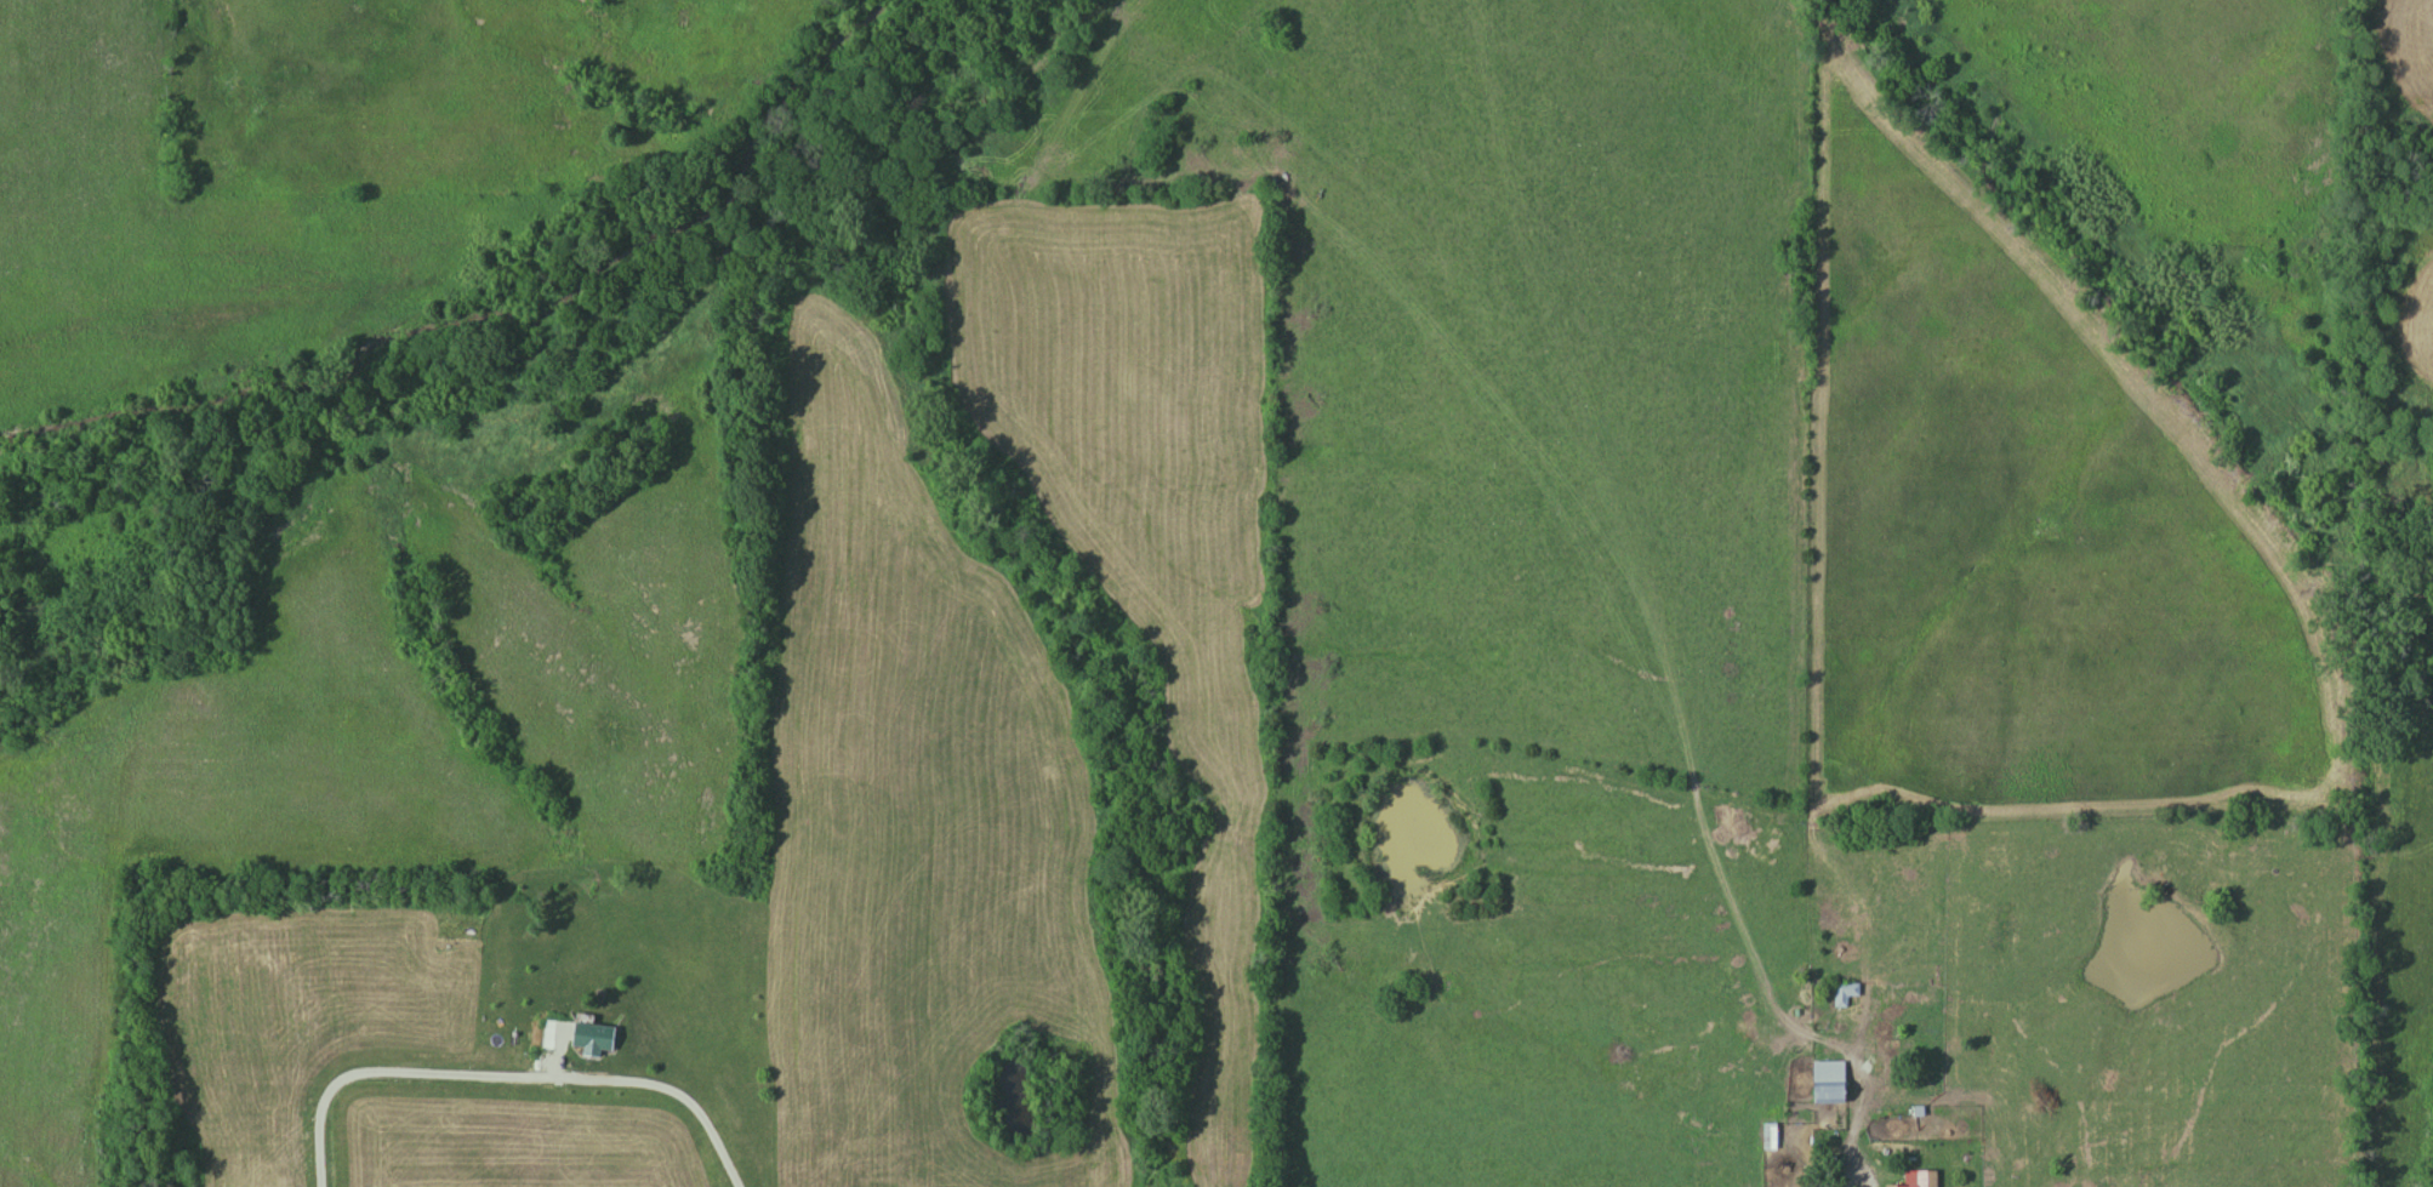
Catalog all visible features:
building: (1845, 993)
building: (596, 1033)
road: (506, 1078)
building: (1830, 1082)
building: (1770, 1136)
building: (1924, 1180)

